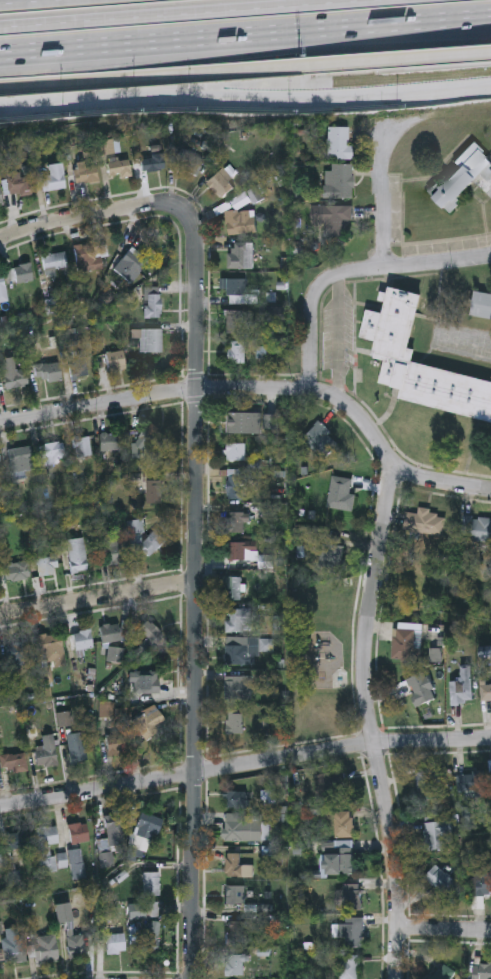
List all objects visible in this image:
road: (181, 13)
road: (245, 34)
road: (245, 68)
road: (245, 96)
building: (339, 142)
building: (108, 145)
building: (190, 162)
building: (153, 163)
building: (118, 167)
building: (87, 172)
building: (54, 177)
building: (463, 179)
building: (339, 180)
building: (21, 184)
building: (221, 184)
building: (1, 198)
road: (383, 198)
building: (241, 200)
road: (90, 216)
building: (331, 219)
building: (240, 222)
building: (90, 256)
building: (241, 256)
building: (54, 262)
building: (132, 264)
building: (23, 273)
road: (353, 274)
building: (237, 287)
building: (2, 289)
building: (153, 305)
building: (482, 308)
building: (237, 322)
road: (336, 338)
building: (150, 340)
building: (237, 353)
building: (391, 355)
building: (115, 360)
building: (78, 367)
building: (48, 372)
building: (13, 374)
road: (153, 395)
building: (239, 423)
building: (112, 441)
building: (154, 441)
building: (320, 441)
building: (82, 446)
building: (52, 452)
building: (236, 452)
building: (21, 458)
road: (388, 459)
building: (236, 486)
building: (153, 492)
building: (341, 494)
building: (238, 522)
building: (421, 523)
building: (473, 529)
building: (152, 543)
building: (116, 547)
building: (242, 552)
building: (332, 553)
building: (77, 554)
building: (46, 565)
building: (18, 571)
road: (195, 591)
building: (236, 591)
road: (97, 598)
building: (237, 621)
building: (110, 632)
building: (147, 639)
building: (83, 640)
building: (49, 641)
building: (404, 646)
building: (18, 651)
building: (116, 654)
building: (238, 656)
building: (147, 681)
building: (460, 685)
building: (235, 689)
building: (421, 689)
building: (485, 693)
road: (367, 721)
building: (148, 722)
building: (234, 723)
building: (116, 743)
building: (77, 747)
building: (47, 751)
building: (13, 761)
road: (244, 766)
building: (490, 780)
building: (427, 787)
building: (470, 787)
building: (332, 789)
building: (343, 825)
building: (148, 826)
building: (245, 828)
building: (79, 832)
building: (435, 835)
building: (19, 839)
building: (112, 842)
building: (50, 850)
building: (340, 862)
building: (236, 867)
building: (441, 882)
building: (152, 883)
building: (480, 886)
building: (235, 895)
building: (350, 901)
building: (69, 930)
road: (444, 931)
building: (151, 936)
building: (235, 936)
building: (350, 936)
building: (115, 943)
building: (46, 947)
building: (13, 954)
building: (235, 966)
building: (349, 968)
building: (481, 972)
building: (445, 973)

